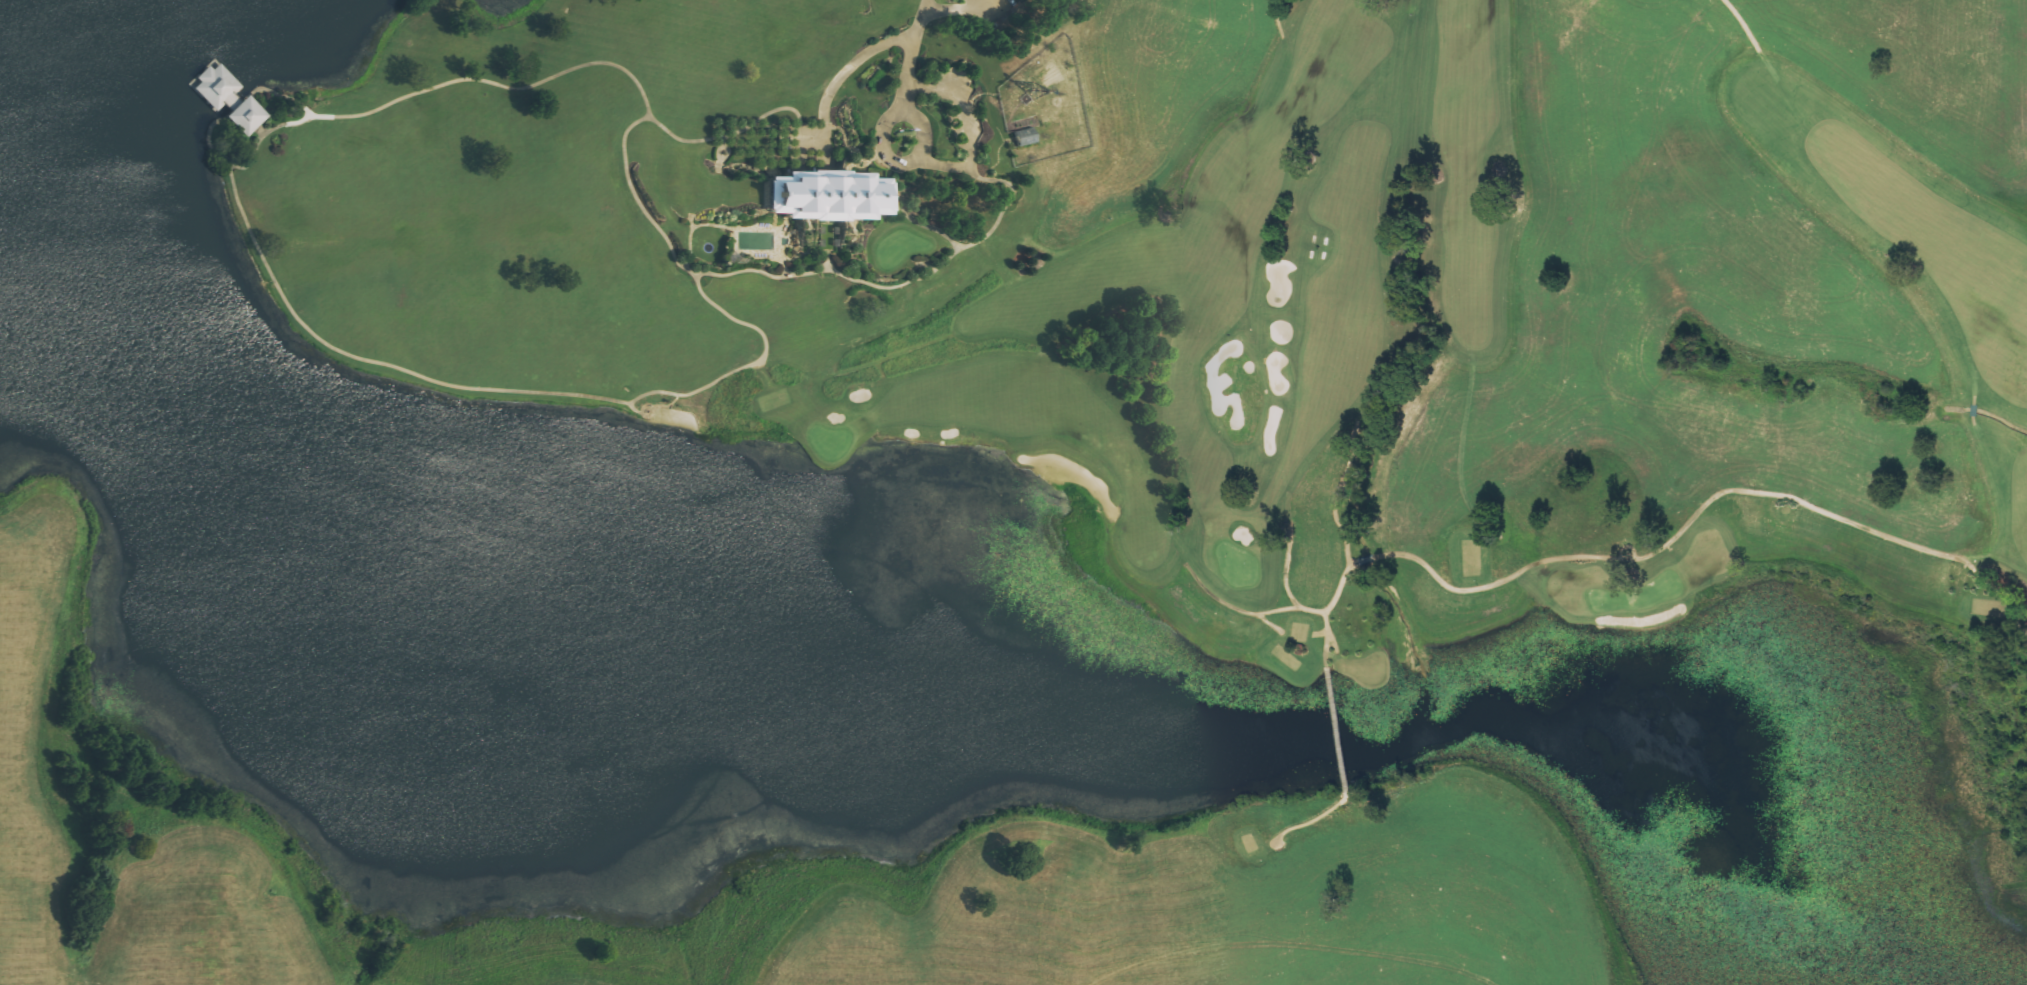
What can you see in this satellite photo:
road: (910, 48)
building: (217, 88)
building: (244, 117)
building: (826, 199)

